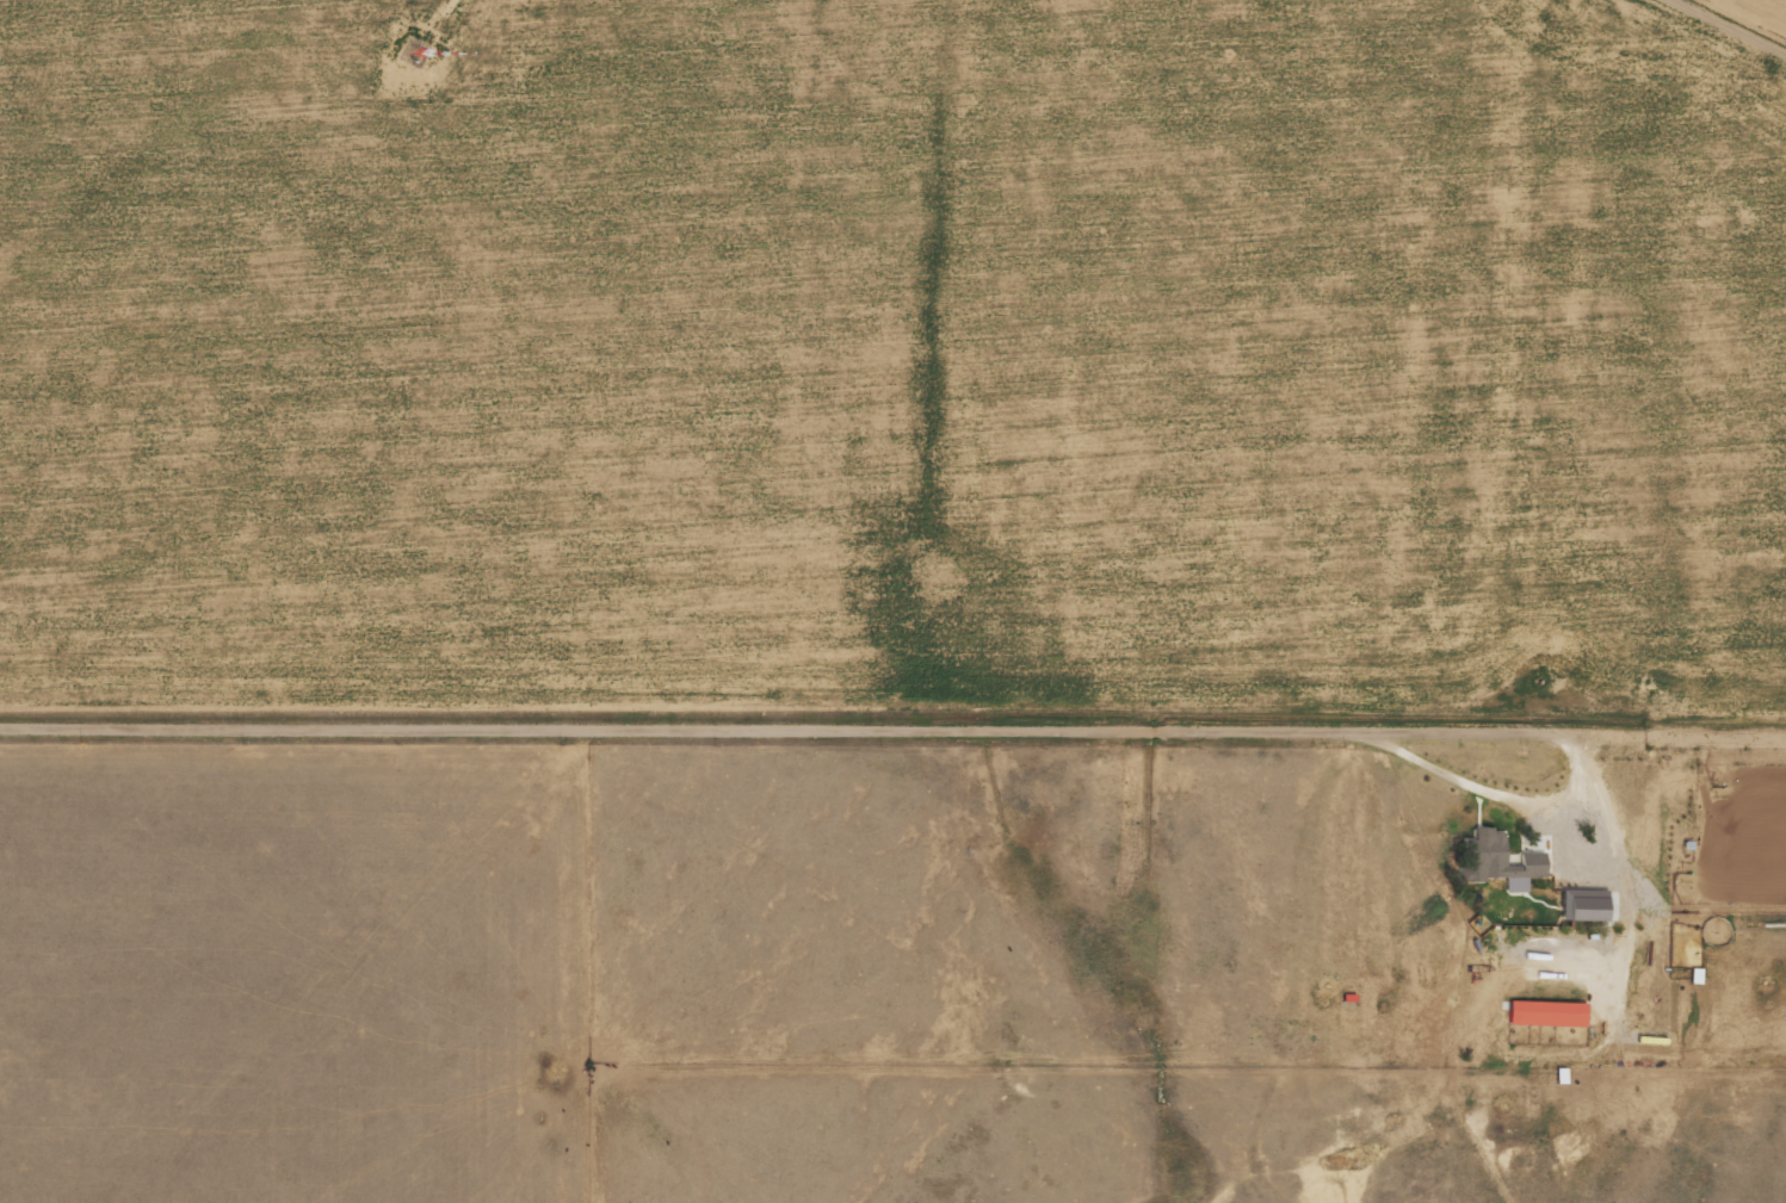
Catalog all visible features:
road: (818, 723)
building: (1501, 861)
building: (1587, 904)
building: (1550, 1013)

